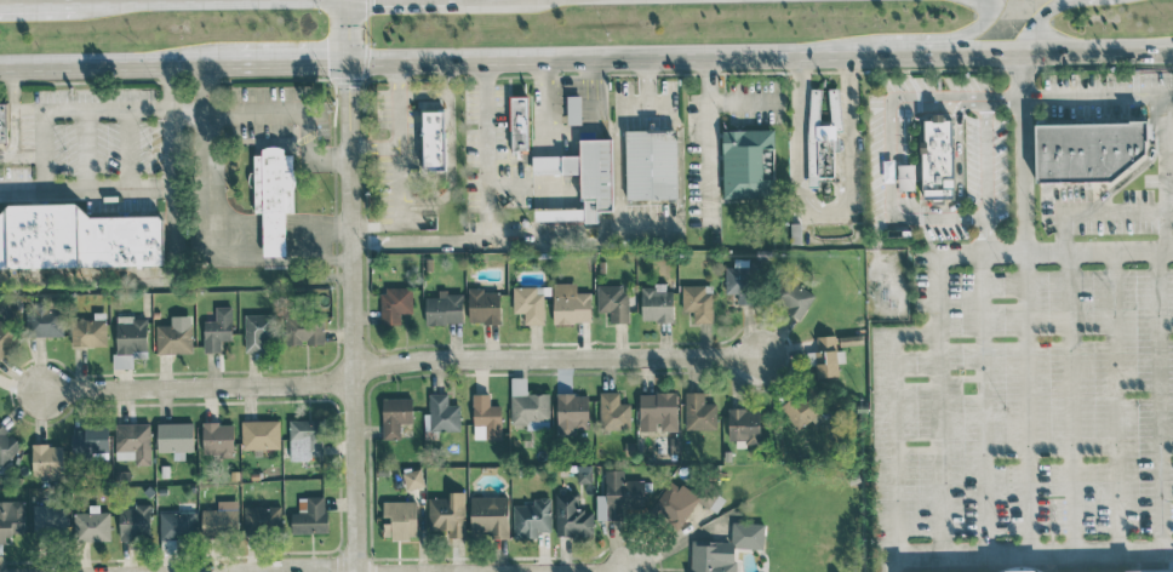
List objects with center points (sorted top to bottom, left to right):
road: (1037, 21)
road: (928, 41)
road: (760, 58)
road: (281, 63)
traffic signals: (328, 63)
road: (108, 67)
road: (648, 81)
traffic signals: (347, 85)
road: (1097, 98)
road: (956, 101)
building: (573, 109)
road: (542, 111)
road: (172, 113)
building: (519, 121)
building: (4, 122)
road: (399, 131)
road: (620, 132)
building: (822, 135)
building: (434, 139)
road: (709, 142)
road: (450, 144)
building: (1091, 149)
road: (167, 151)
road: (482, 151)
building: (935, 154)
road: (1022, 154)
road: (1163, 154)
building: (748, 162)
building: (651, 164)
road: (543, 173)
building: (584, 173)
building: (905, 176)
road: (84, 191)
building: (274, 195)
road: (519, 196)
road: (214, 202)
road: (399, 212)
road: (824, 212)
road: (1112, 212)
building: (557, 213)
road: (938, 215)
road: (647, 219)
road: (171, 223)
road: (986, 234)
building: (76, 238)
road: (492, 242)
road: (1052, 252)
building: (745, 281)
road: (347, 286)
building: (794, 296)
building: (698, 301)
building: (613, 302)
building: (571, 303)
building: (657, 303)
building: (395, 304)
building: (528, 304)
building: (483, 305)
building: (444, 308)
building: (42, 320)
building: (217, 328)
building: (304, 330)
building: (88, 332)
building: (258, 333)
building: (174, 336)
building: (130, 339)
building: (5, 341)
road: (554, 356)
building: (826, 356)
road: (191, 387)
road: (896, 387)
road: (1160, 399)
road: (1117, 400)
road: (1071, 401)
road: (984, 404)
road: (1029, 404)
building: (528, 405)
building: (613, 411)
building: (658, 411)
building: (699, 411)
building: (802, 411)
building: (572, 412)
building: (441, 413)
building: (395, 414)
building: (487, 416)
building: (744, 424)
building: (261, 434)
building: (176, 436)
building: (305, 437)
building: (218, 439)
road: (940, 439)
building: (91, 440)
building: (133, 442)
building: (7, 444)
building: (47, 459)
building: (584, 474)
building: (413, 479)
building: (620, 497)
building: (676, 503)
building: (448, 514)
building: (309, 515)
building: (490, 515)
building: (262, 516)
building: (11, 517)
building: (531, 517)
building: (572, 517)
building: (50, 519)
building: (221, 519)
building: (400, 519)
building: (135, 521)
building: (92, 525)
building: (177, 525)
building: (726, 544)
road: (1040, 553)
road: (893, 561)
road: (439, 571)
building: (1158, 571)

